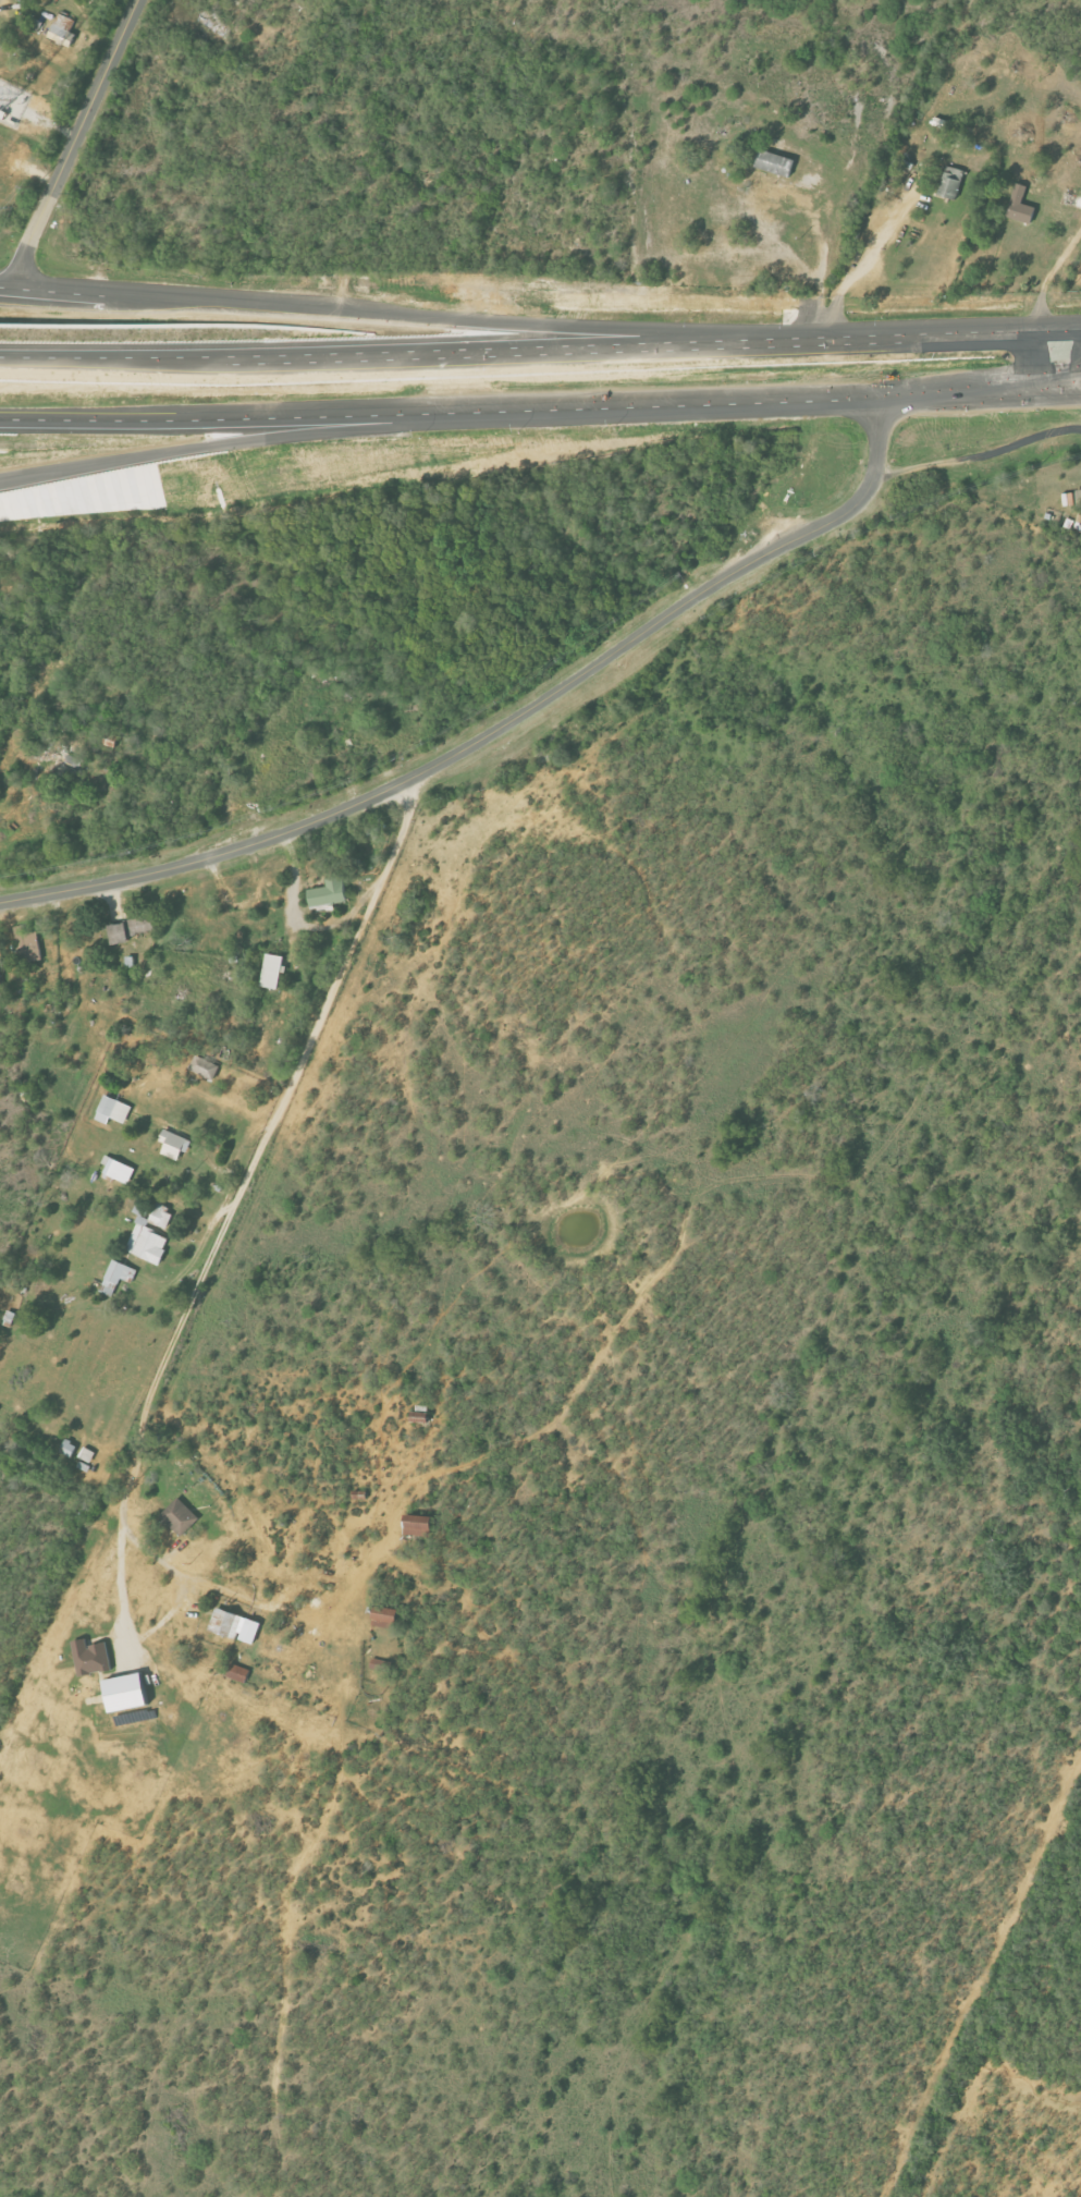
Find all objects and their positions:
building: (63, 30)
road: (73, 143)
building: (774, 162)
building: (901, 170)
building: (950, 181)
road: (799, 197)
building: (1021, 206)
road: (855, 271)
road: (1052, 279)
road: (372, 309)
road: (540, 346)
road: (540, 408)
road: (431, 418)
road: (194, 445)
road: (976, 454)
building: (1069, 499)
road: (500, 731)
building: (330, 893)
building: (133, 927)
building: (28, 945)
building: (272, 972)
building: (205, 1067)
building: (112, 1111)
building: (174, 1145)
building: (119, 1170)
road: (225, 1225)
building: (149, 1234)
building: (116, 1278)
road: (175, 1287)
building: (69, 1449)
building: (87, 1455)
building: (181, 1516)
building: (419, 1525)
building: (386, 1616)
building: (226, 1623)
road: (127, 1628)
building: (250, 1631)
building: (91, 1658)
building: (379, 1664)
building: (238, 1673)
building: (126, 1693)

